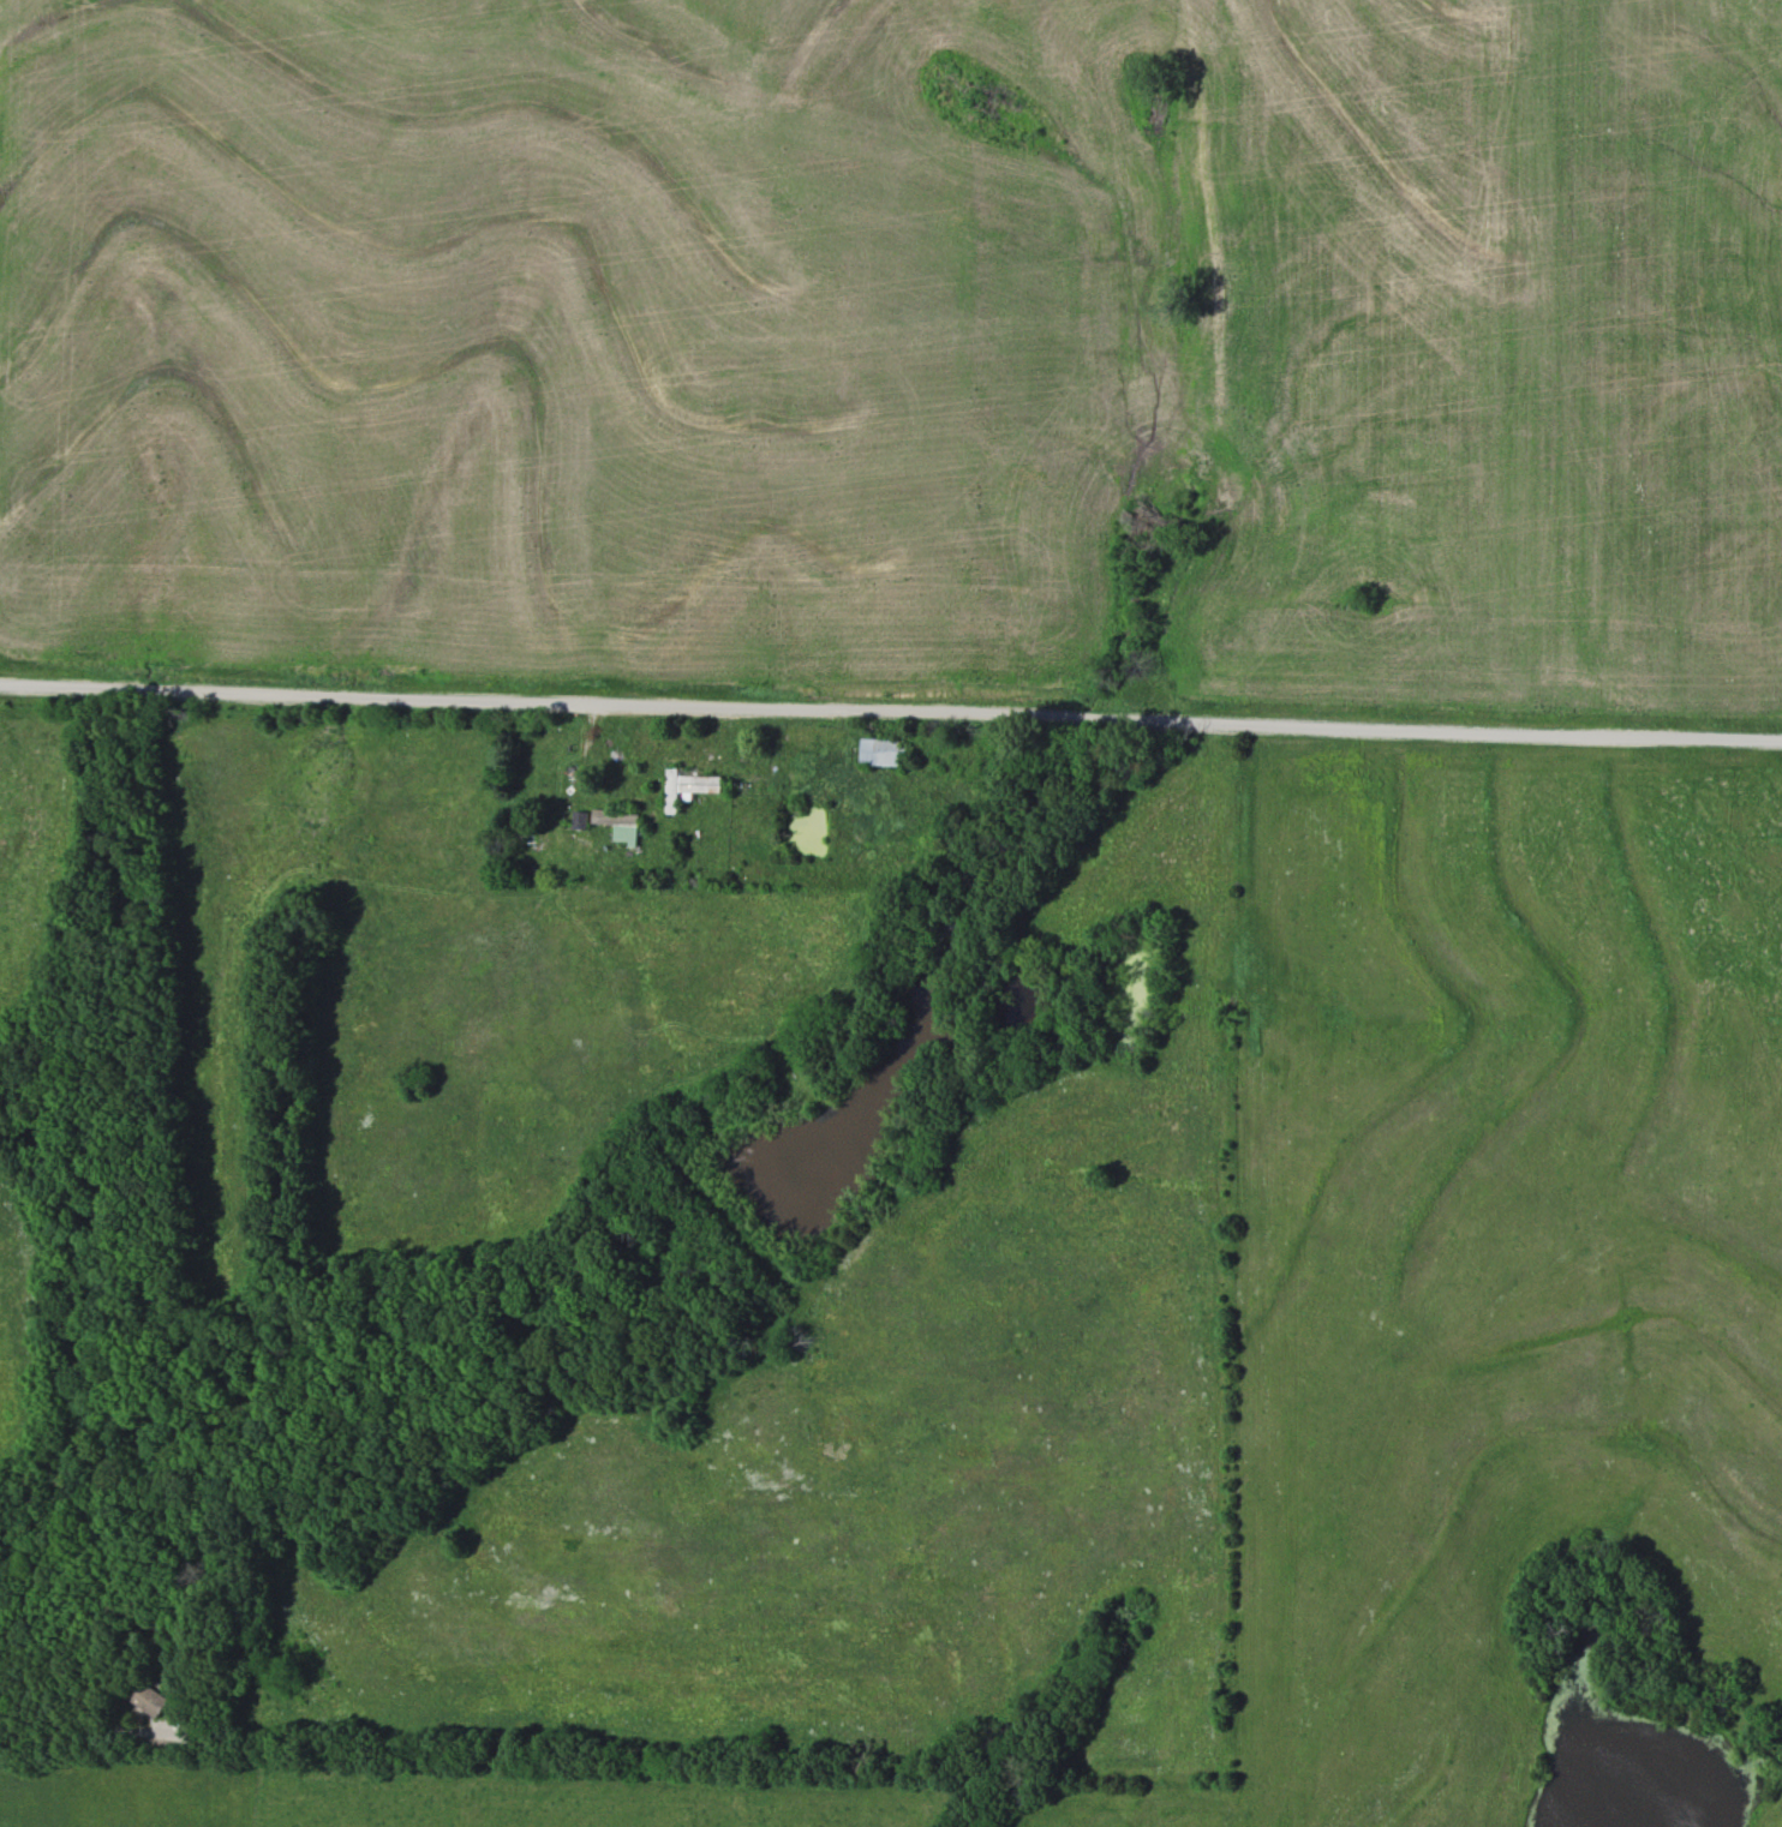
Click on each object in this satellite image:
road: (890, 714)
building: (878, 754)
building: (687, 787)
road: (90, 1738)

